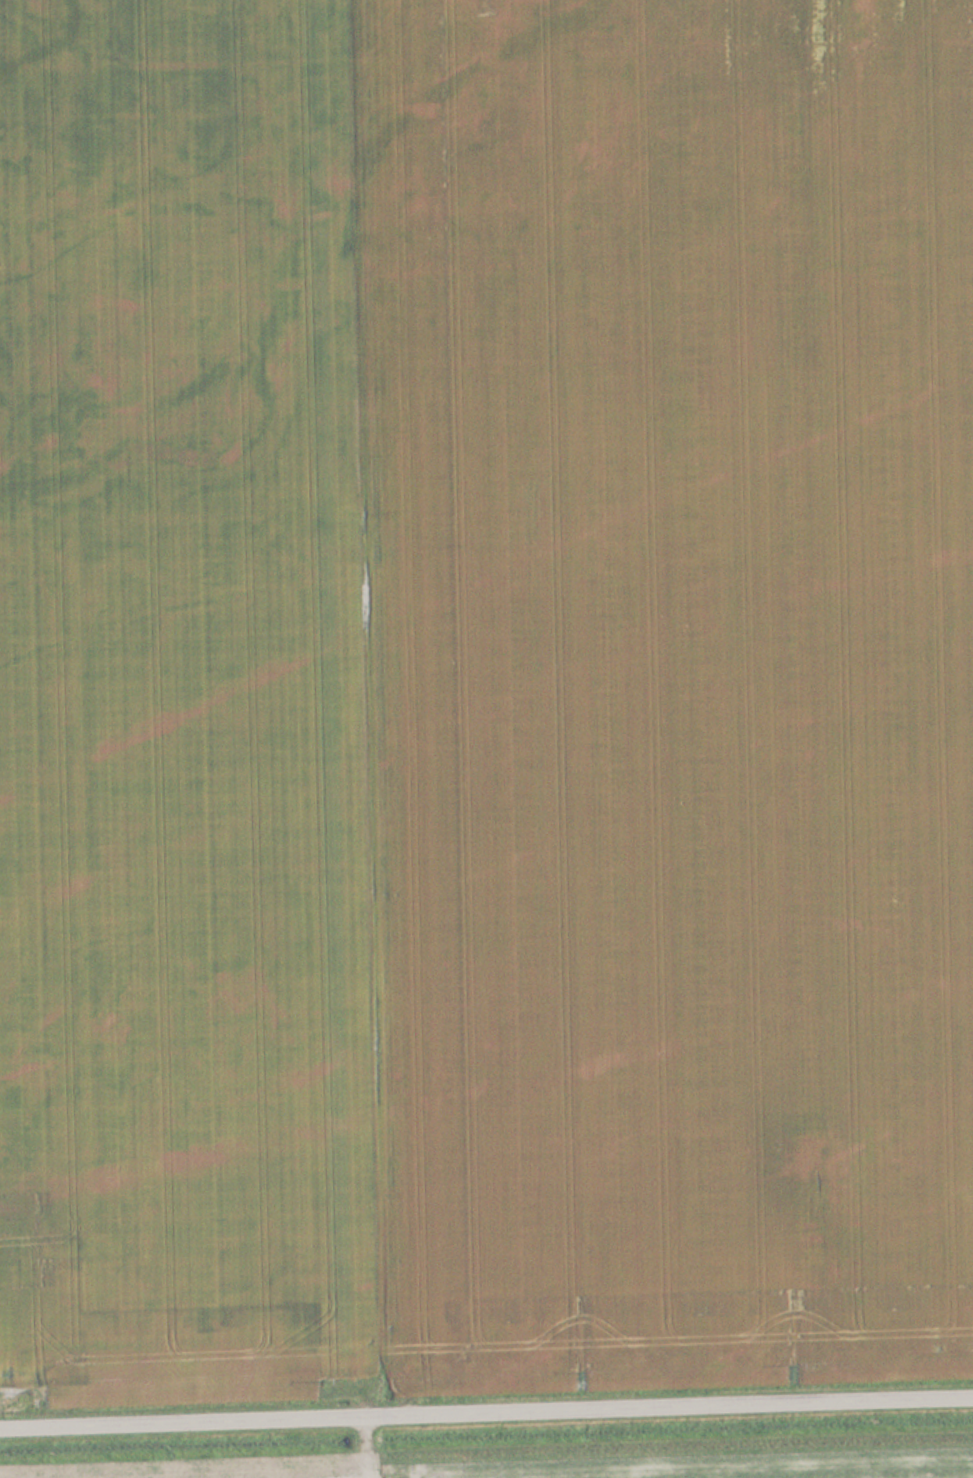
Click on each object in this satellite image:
road: (486, 1413)

